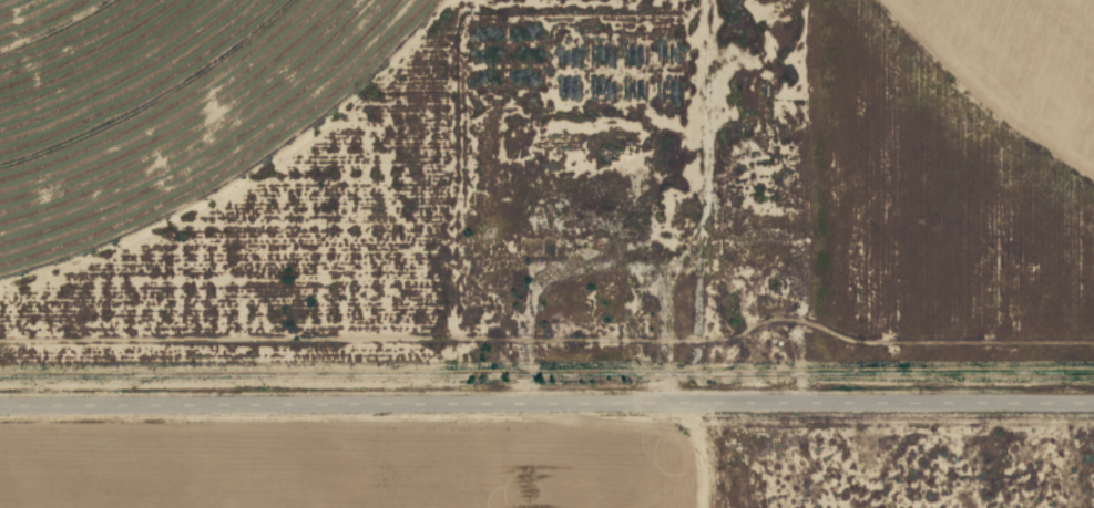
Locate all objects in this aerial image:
crop: (1019, 62)
crop: (163, 101)
road: (695, 196)
road: (546, 401)
road: (699, 450)

